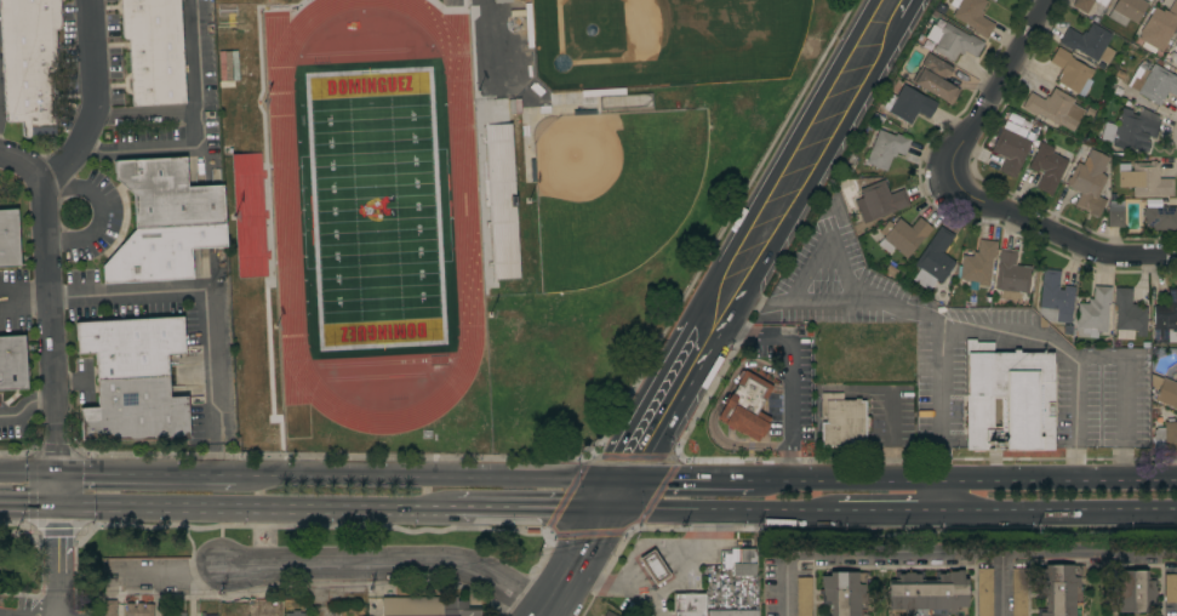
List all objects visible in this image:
building: (502, 1)
building: (1087, 4)
building: (1126, 11)
building: (229, 15)
building: (973, 17)
building: (528, 24)
building: (1158, 28)
park: (662, 40)
building: (953, 41)
building: (1090, 42)
building: (1176, 44)
building: (154, 51)
building: (29, 62)
building: (1070, 72)
building: (935, 79)
building: (1153, 82)
road: (1000, 84)
building: (602, 92)
road: (93, 103)
building: (908, 104)
building: (1055, 109)
road: (143, 112)
building: (1131, 131)
road: (196, 132)
building: (1012, 147)
building: (886, 149)
building: (1047, 167)
building: (1144, 179)
building: (1089, 183)
park: (616, 186)
building: (168, 194)
building: (879, 201)
track: (463, 205)
building: (1115, 213)
road: (97, 215)
building: (1160, 218)
road: (1058, 233)
building: (903, 235)
building: (8, 239)
road: (762, 240)
building: (160, 252)
building: (935, 259)
building: (978, 264)
building: (1011, 275)
road: (50, 279)
building: (1055, 298)
road: (206, 307)
building: (1093, 314)
building: (1127, 315)
building: (1165, 319)
road: (987, 330)
building: (131, 346)
building: (12, 363)
road: (790, 373)
road: (73, 381)
building: (1165, 392)
building: (1009, 399)
road: (943, 400)
road: (28, 405)
building: (745, 406)
building: (136, 411)
road: (1076, 420)
building: (842, 422)
building: (1165, 439)
road: (62, 466)
road: (30, 473)
traffic signals: (63, 474)
road: (149, 475)
road: (432, 479)
road: (964, 479)
traffic signals: (628, 481)
road: (690, 481)
road: (619, 496)
road: (30, 507)
traffic signals: (62, 508)
road: (259, 511)
road: (535, 511)
traffic signals: (611, 511)
road: (722, 511)
road: (886, 511)
road: (1057, 511)
road: (953, 554)
road: (389, 558)
road: (59, 561)
road: (577, 563)
building: (744, 563)
building: (653, 567)
road: (168, 570)
road: (999, 584)
road: (322, 587)
building: (1170, 588)
road: (663, 589)
building: (1059, 591)
building: (984, 592)
building: (1018, 592)
building: (1131, 592)
building: (844, 593)
building: (927, 594)
building: (804, 597)
building: (689, 604)
building: (425, 606)
building: (108, 608)
building: (233, 608)
building: (142, 610)
building: (733, 612)
road: (10, 614)
building: (175, 614)
building: (202, 614)
building: (295, 614)
building: (609, 614)

